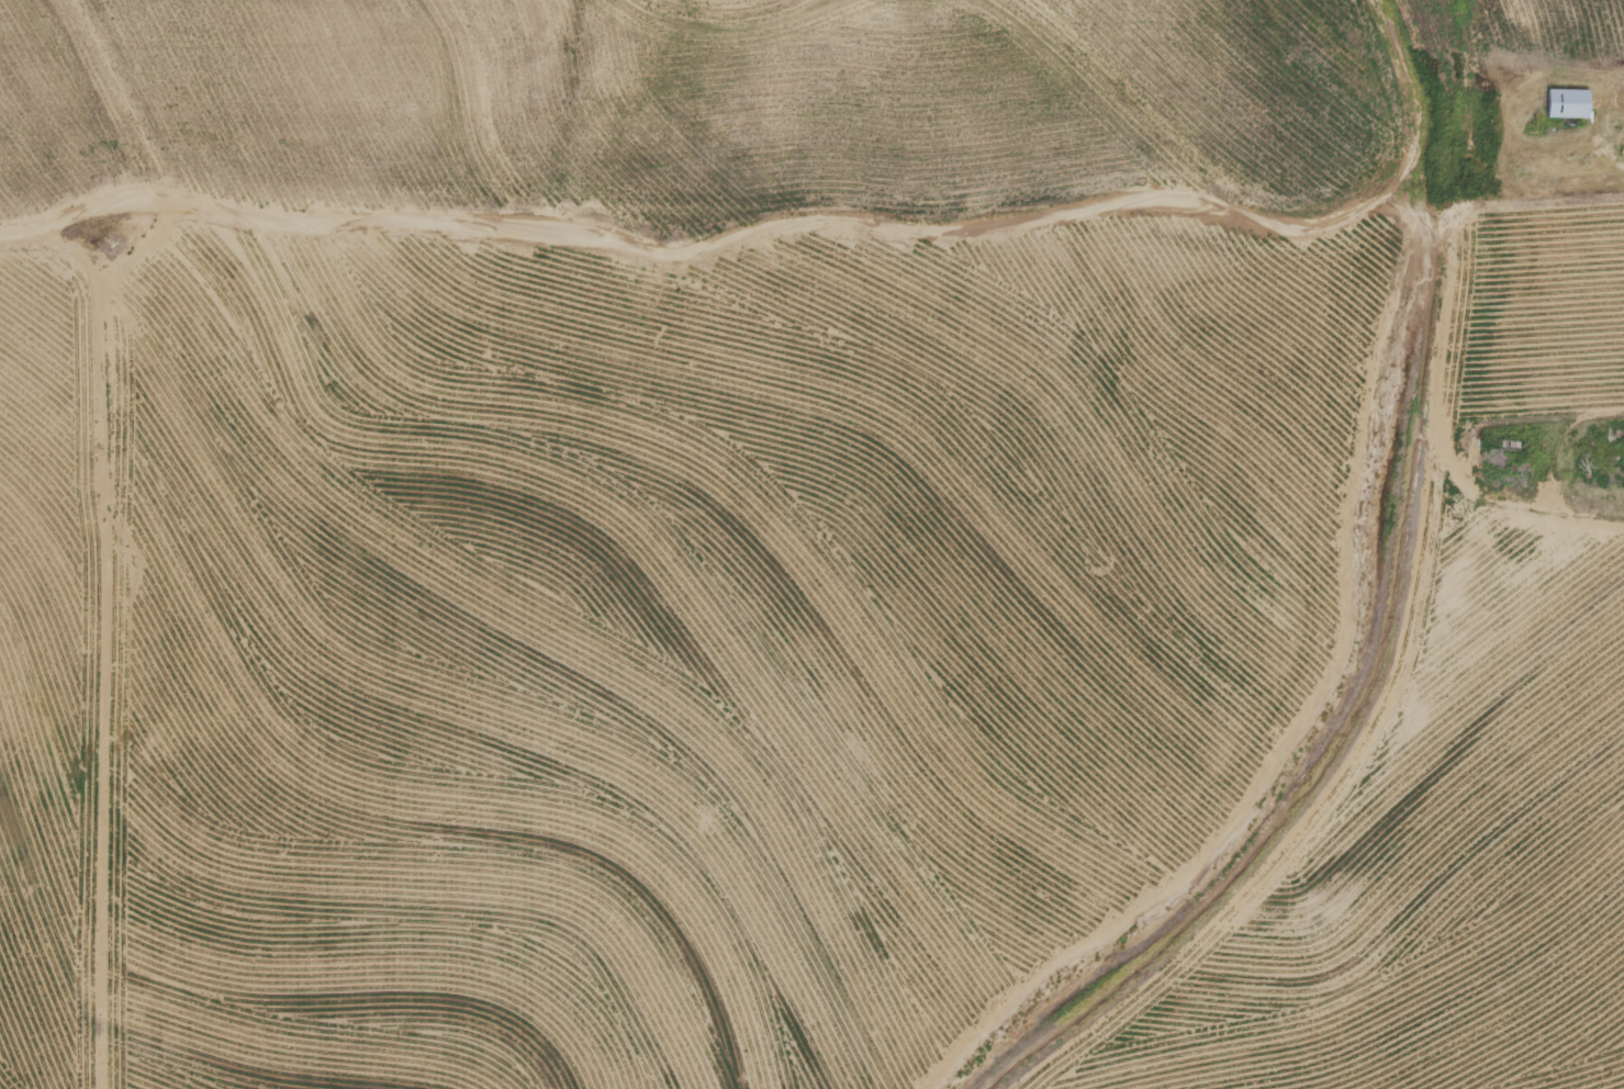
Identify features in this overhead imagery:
building: (1570, 104)

